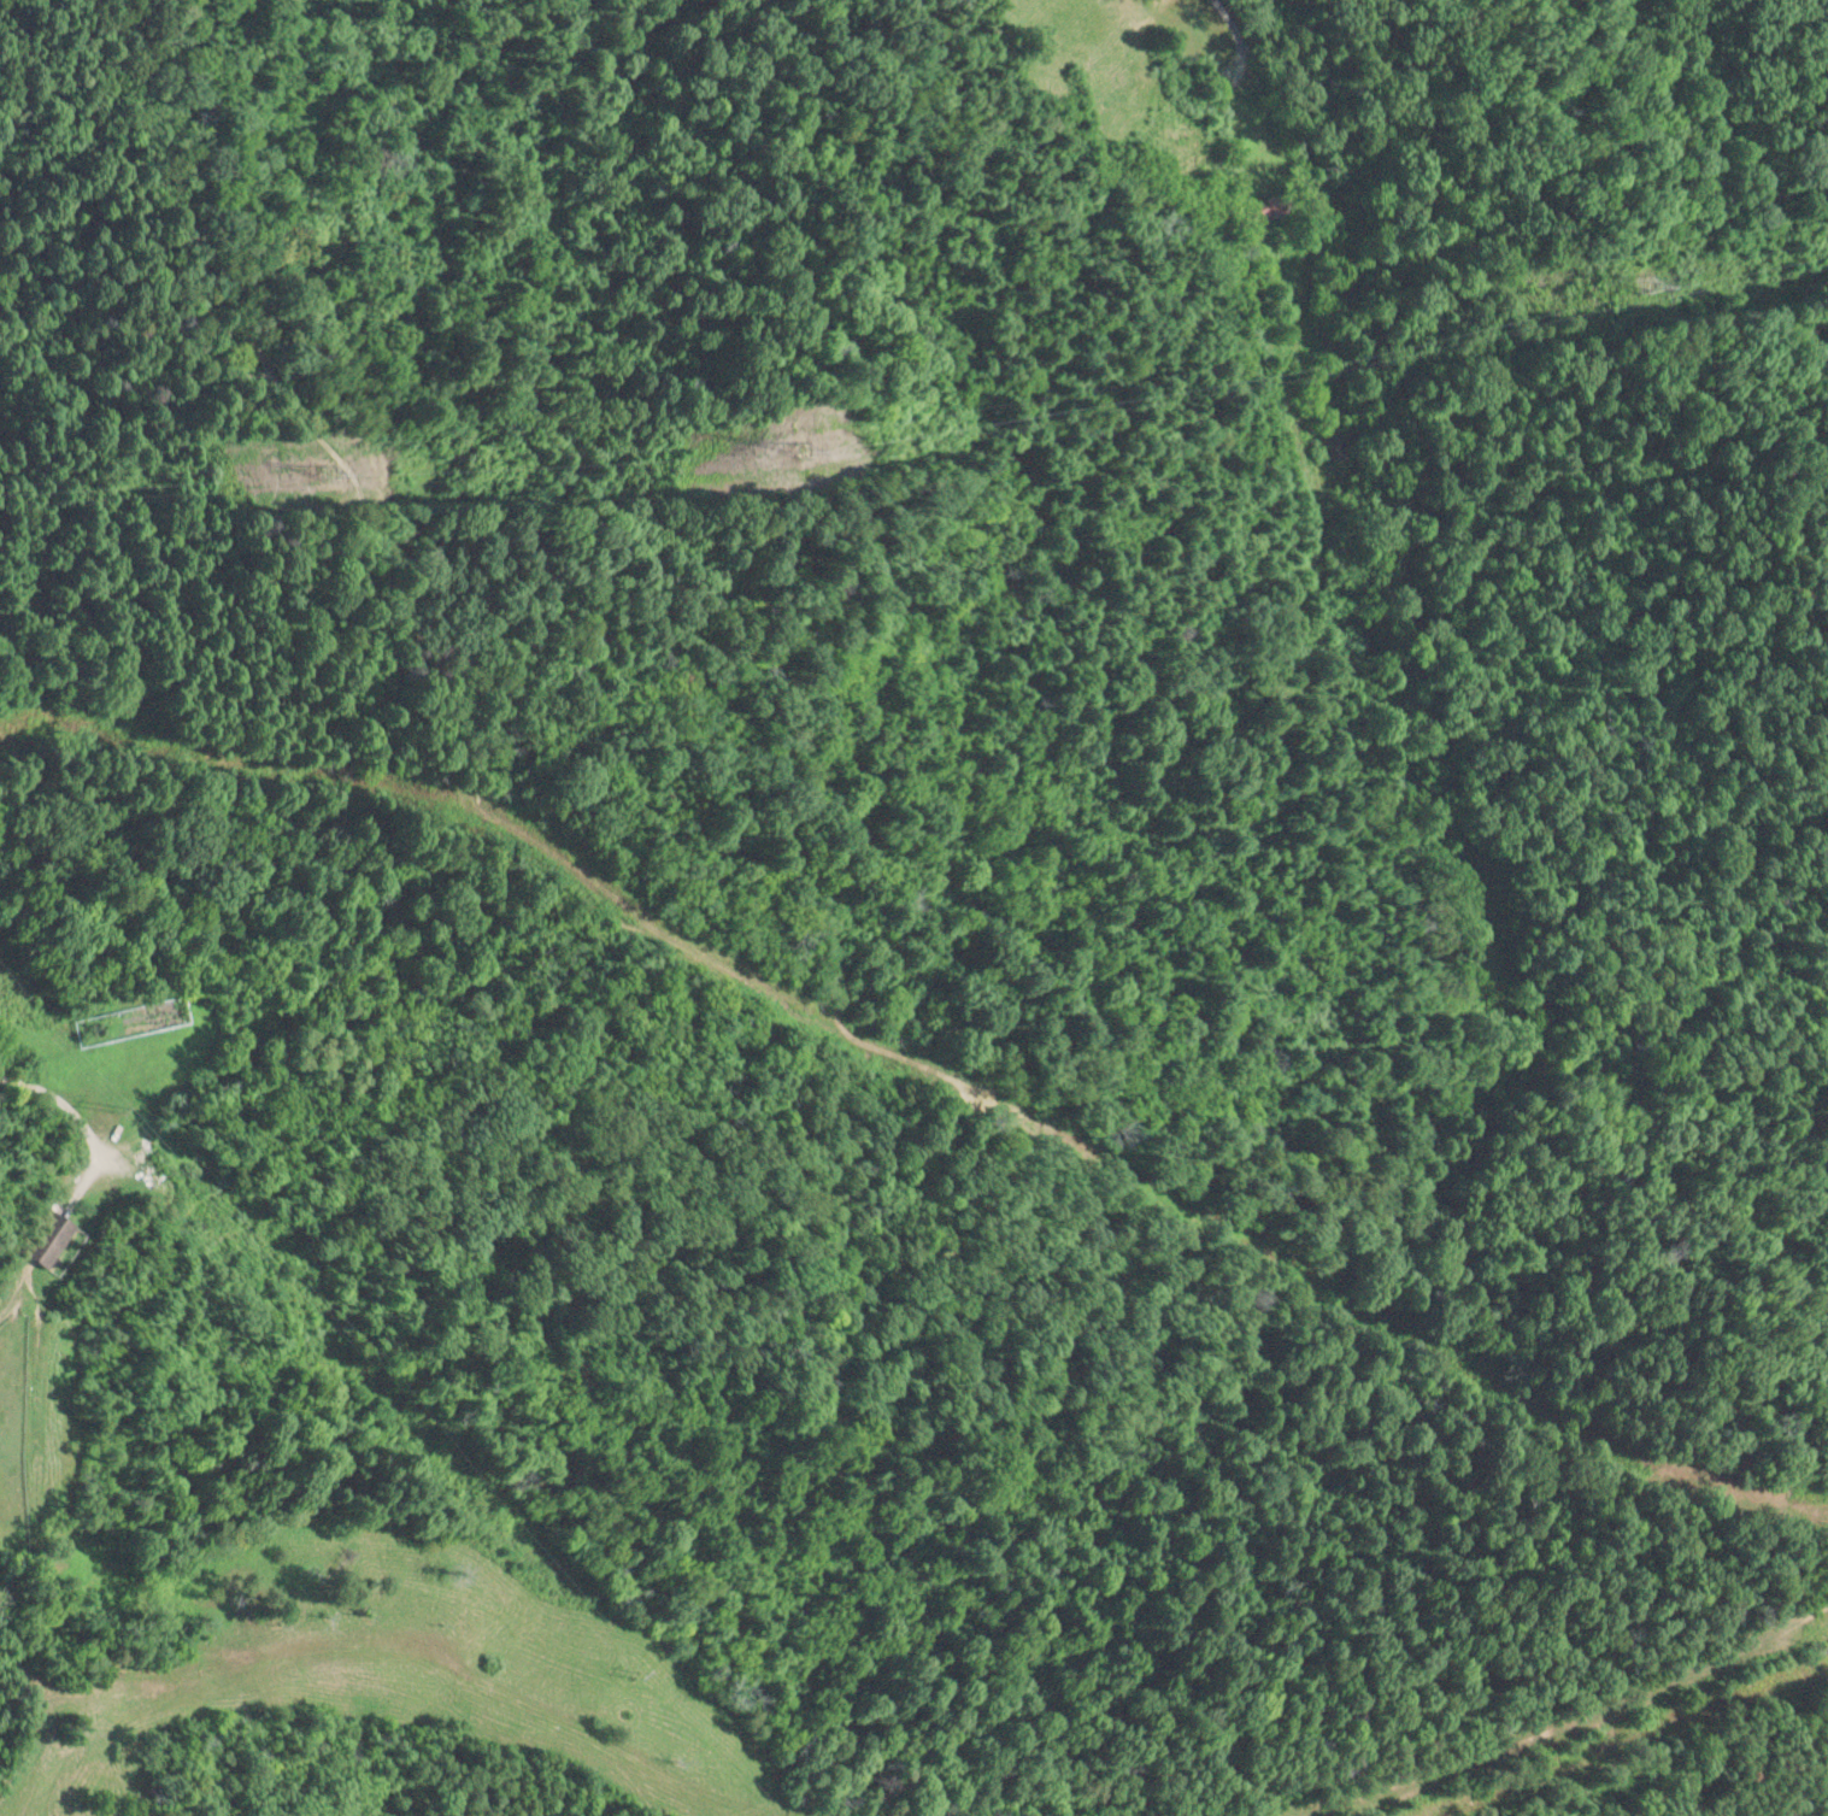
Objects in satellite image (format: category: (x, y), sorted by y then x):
road: (1228, 25)
power tower: (1634, 288)
building: (1339, 447)
power tower: (804, 448)
power tower: (317, 476)
power tower: (112, 1107)
building: (43, 1240)
power tower: (634, 1675)

